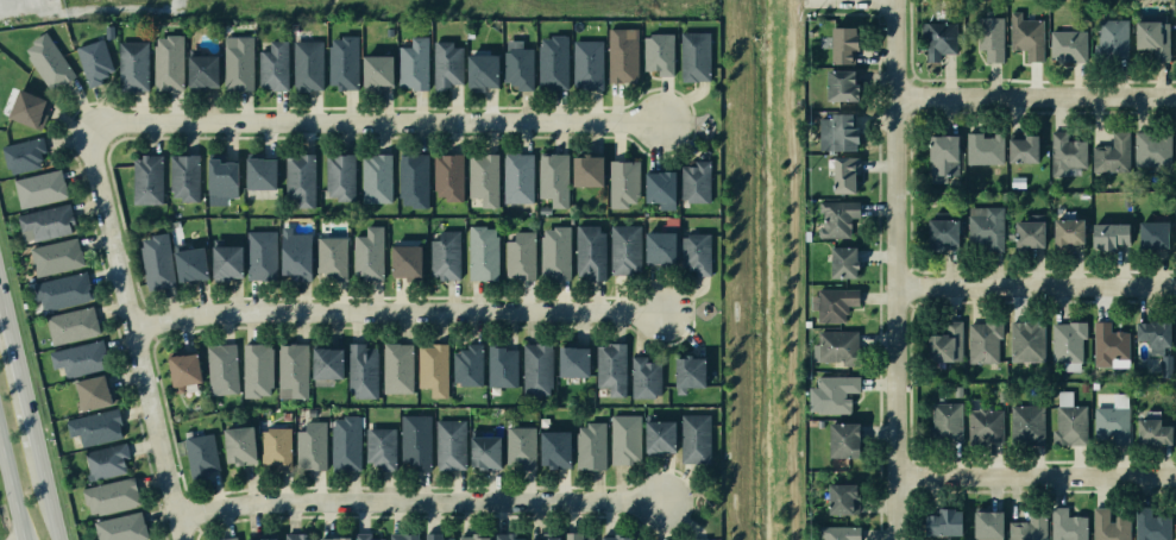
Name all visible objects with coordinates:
parking lot: (31, 10)
building: (1025, 34)
building: (991, 36)
building: (937, 38)
building: (1152, 38)
building: (1111, 39)
building: (844, 43)
building: (1067, 45)
road: (893, 49)
building: (655, 52)
building: (692, 55)
building: (617, 56)
building: (46, 58)
building: (93, 61)
building: (341, 61)
building: (551, 61)
building: (235, 62)
building: (166, 63)
building: (585, 63)
building: (306, 64)
building: (444, 64)
building: (516, 64)
building: (131, 65)
building: (270, 65)
building: (411, 65)
building: (478, 68)
building: (197, 69)
building: (371, 69)
building: (842, 86)
road: (1034, 98)
building: (23, 107)
road: (378, 123)
building: (836, 132)
building: (983, 147)
building: (1024, 147)
building: (1150, 149)
building: (1175, 149)
building: (1064, 152)
building: (1112, 153)
building: (23, 156)
building: (943, 157)
building: (587, 170)
building: (260, 171)
building: (844, 174)
building: (221, 175)
building: (183, 176)
building: (339, 176)
building: (447, 176)
building: (517, 177)
building: (146, 178)
building: (300, 178)
building: (376, 178)
building: (413, 178)
building: (483, 178)
building: (553, 178)
building: (696, 181)
building: (622, 182)
building: (38, 188)
building: (661, 188)
building: (1082, 194)
building: (543, 209)
building: (836, 216)
building: (44, 224)
building: (986, 226)
building: (942, 231)
building: (1030, 232)
building: (1068, 233)
building: (1109, 234)
building: (1153, 234)
building: (661, 243)
building: (624, 247)
building: (589, 251)
building: (482, 252)
building: (555, 252)
building: (696, 252)
building: (295, 253)
building: (367, 253)
building: (259, 255)
building: (445, 255)
building: (520, 255)
building: (55, 256)
building: (331, 256)
building: (157, 260)
building: (226, 260)
building: (407, 260)
building: (843, 262)
building: (190, 263)
road: (1036, 287)
building: (61, 291)
building: (832, 303)
road: (2, 307)
road: (402, 309)
road: (895, 319)
building: (70, 324)
building: (1153, 332)
road: (136, 338)
building: (983, 340)
building: (1065, 340)
building: (1026, 341)
building: (945, 343)
building: (1108, 345)
building: (835, 346)
building: (77, 358)
building: (327, 360)
building: (573, 360)
building: (467, 365)
building: (501, 365)
building: (221, 366)
building: (397, 366)
building: (293, 368)
building: (536, 368)
building: (610, 368)
building: (182, 369)
building: (256, 369)
building: (433, 369)
building: (363, 370)
building: (688, 372)
building: (644, 377)
road: (19, 379)
building: (1093, 384)
building: (1083, 387)
building: (957, 390)
building: (92, 393)
building: (834, 393)
building: (1001, 396)
building: (1175, 415)
building: (945, 421)
building: (818, 423)
building: (1027, 423)
building: (1069, 423)
building: (983, 425)
building: (1111, 425)
building: (94, 426)
building: (1153, 429)
building: (659, 435)
building: (694, 438)
building: (624, 439)
building: (844, 439)
building: (415, 440)
building: (345, 442)
building: (449, 444)
building: (240, 445)
building: (276, 446)
building: (310, 446)
building: (590, 446)
building: (379, 447)
building: (520, 447)
building: (555, 447)
building: (485, 451)
building: (200, 454)
building: (106, 459)
road: (1034, 476)
road: (45, 491)
road: (11, 494)
building: (111, 495)
building: (843, 498)
building: (709, 503)
road: (423, 510)
building: (944, 522)
building: (1149, 523)
building: (1067, 525)
building: (1108, 525)
building: (987, 526)
building: (1029, 526)
building: (1175, 526)
building: (120, 527)
building: (838, 532)
building: (266, 536)
building: (296, 536)
building: (364, 536)
building: (403, 536)
building: (435, 536)
building: (504, 536)
building: (551, 536)
building: (576, 536)
building: (226, 538)
building: (334, 538)
building: (473, 538)
building: (616, 538)
building: (698, 539)

